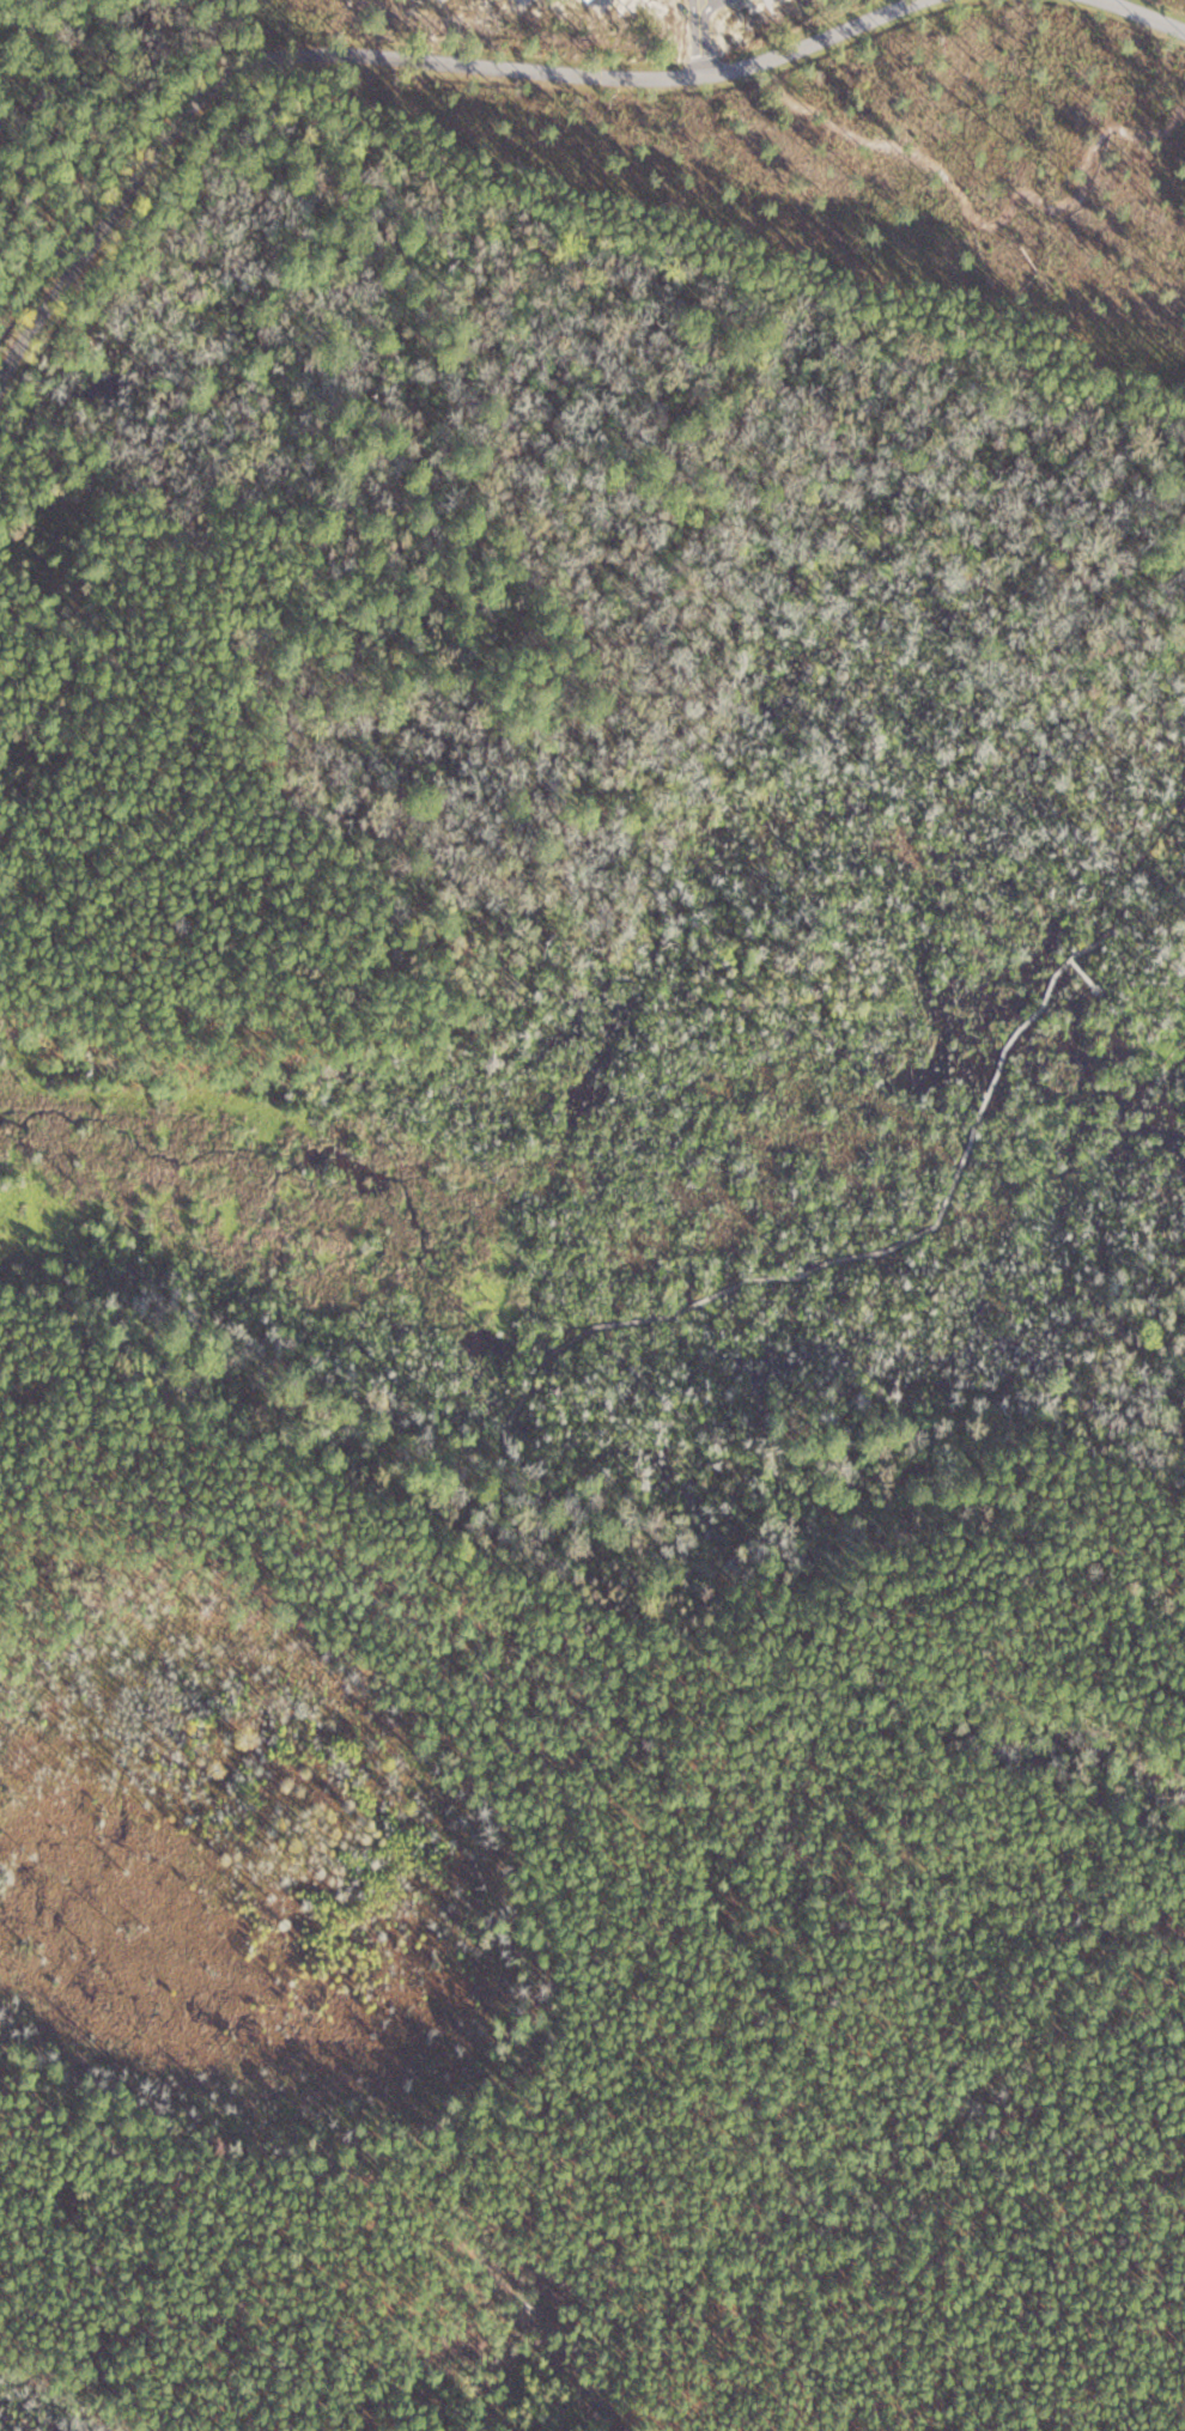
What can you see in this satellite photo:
road: (706, 7)
road: (1149, 13)
road: (701, 41)
road: (378, 49)
road: (1087, 976)
road: (862, 1254)
road: (255, 1524)

